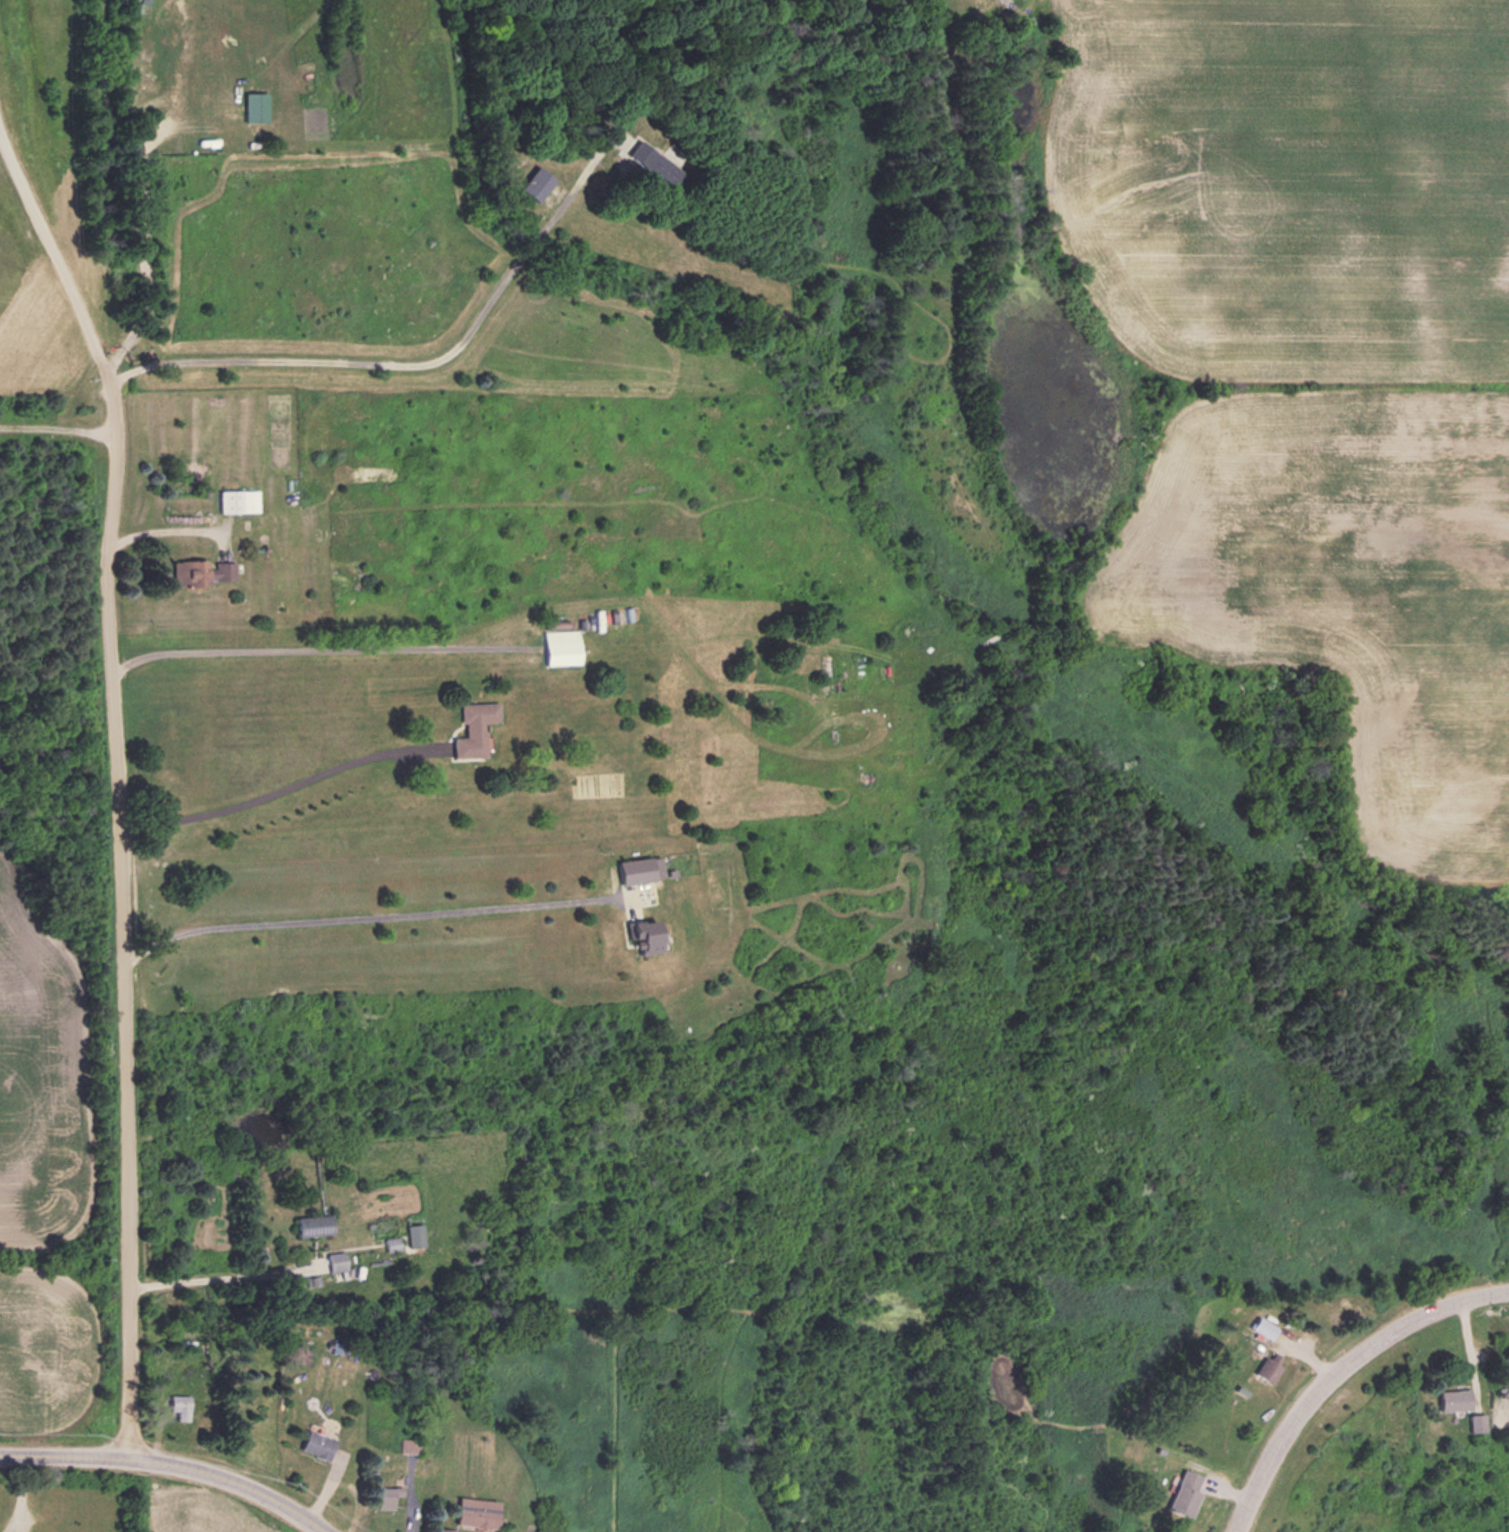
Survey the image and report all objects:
building: (531, 178)
road: (56, 261)
road: (331, 360)
building: (229, 501)
building: (196, 572)
building: (557, 647)
building: (470, 728)
road: (278, 787)
building: (633, 869)
road: (364, 916)
road: (123, 919)
building: (635, 937)
building: (304, 1225)
building: (412, 1235)
building: (387, 1243)
building: (330, 1260)
road: (222, 1275)
building: (1260, 1327)
building: (1264, 1366)
road: (1336, 1367)
building: (1448, 1400)
building: (178, 1405)
building: (1473, 1422)
building: (311, 1445)
building: (405, 1446)
road: (176, 1460)
building: (1180, 1493)
building: (382, 1498)
building: (471, 1513)
building: (440, 1531)

